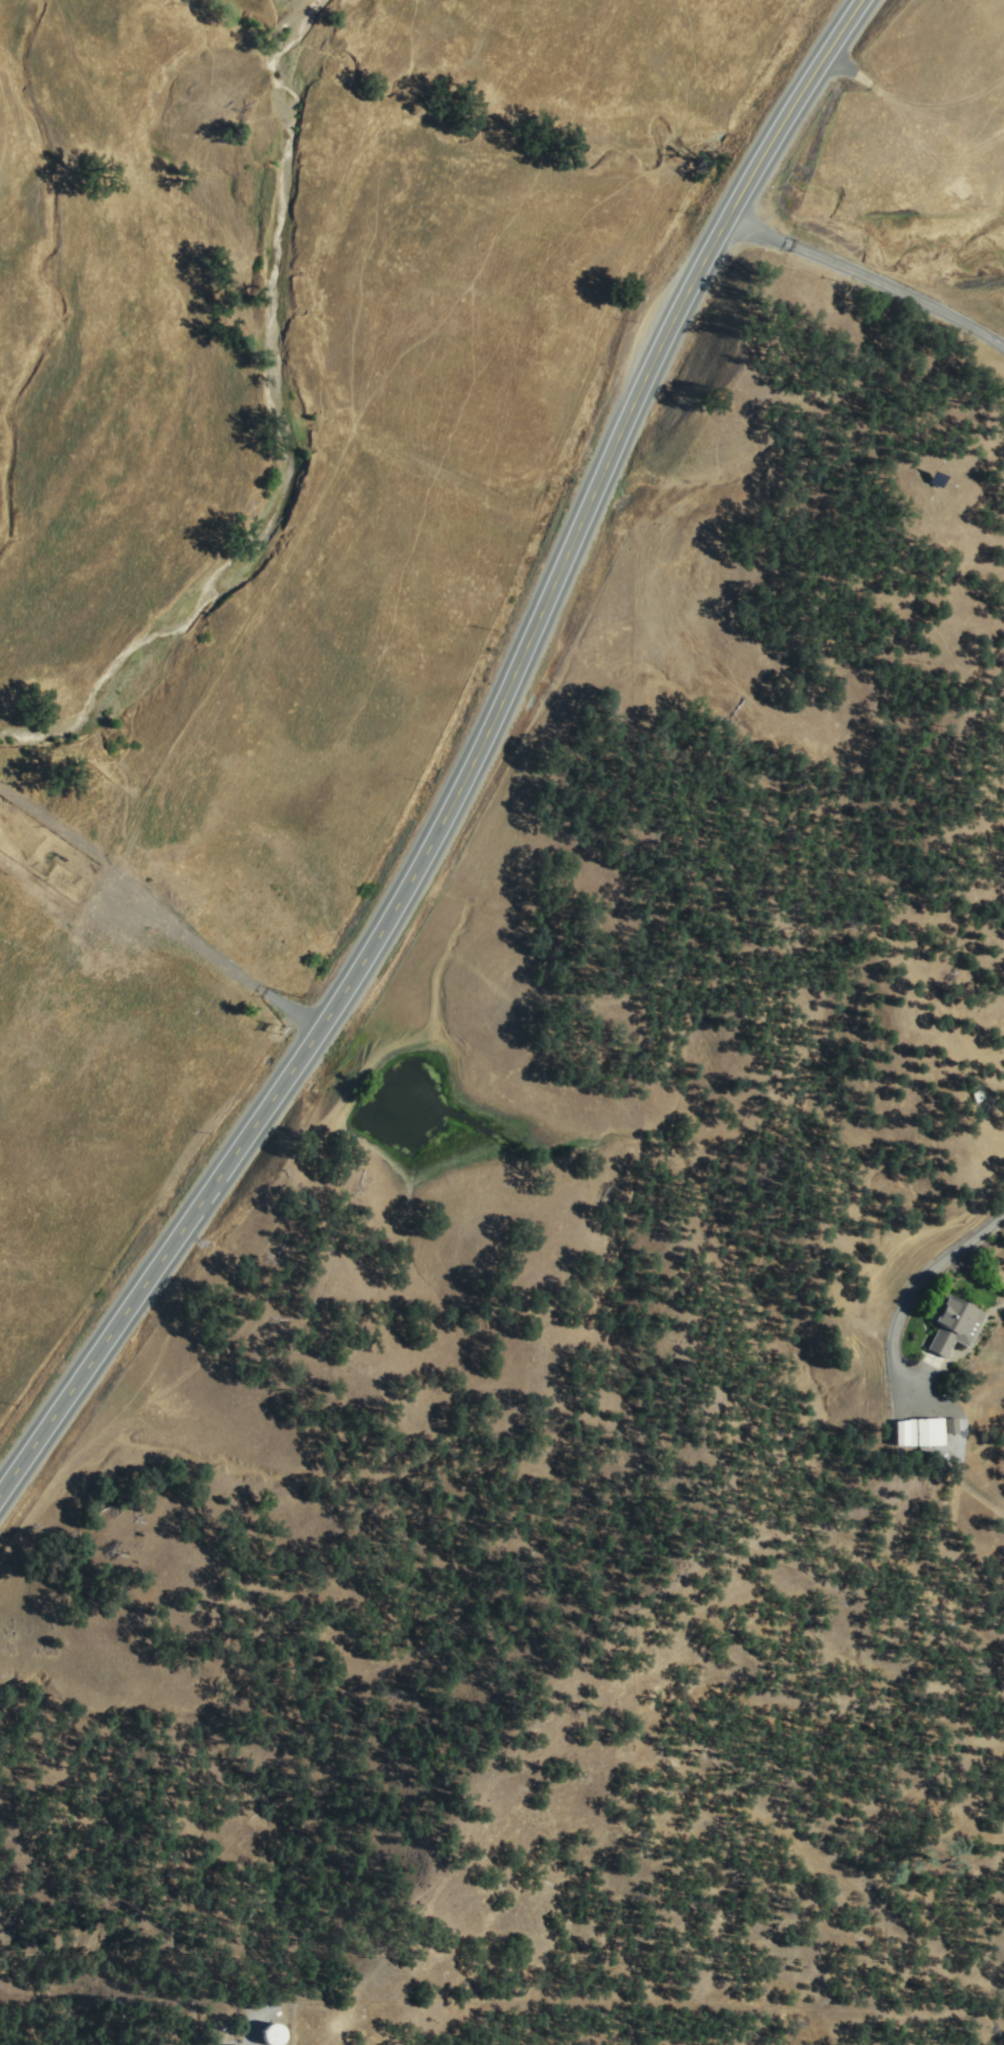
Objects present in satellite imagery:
road: (789, 106)
road: (867, 275)
road: (408, 878)
road: (157, 910)
power tower: (284, 1029)
road: (907, 1293)
building: (950, 1321)
building: (916, 1430)
building: (266, 2034)

